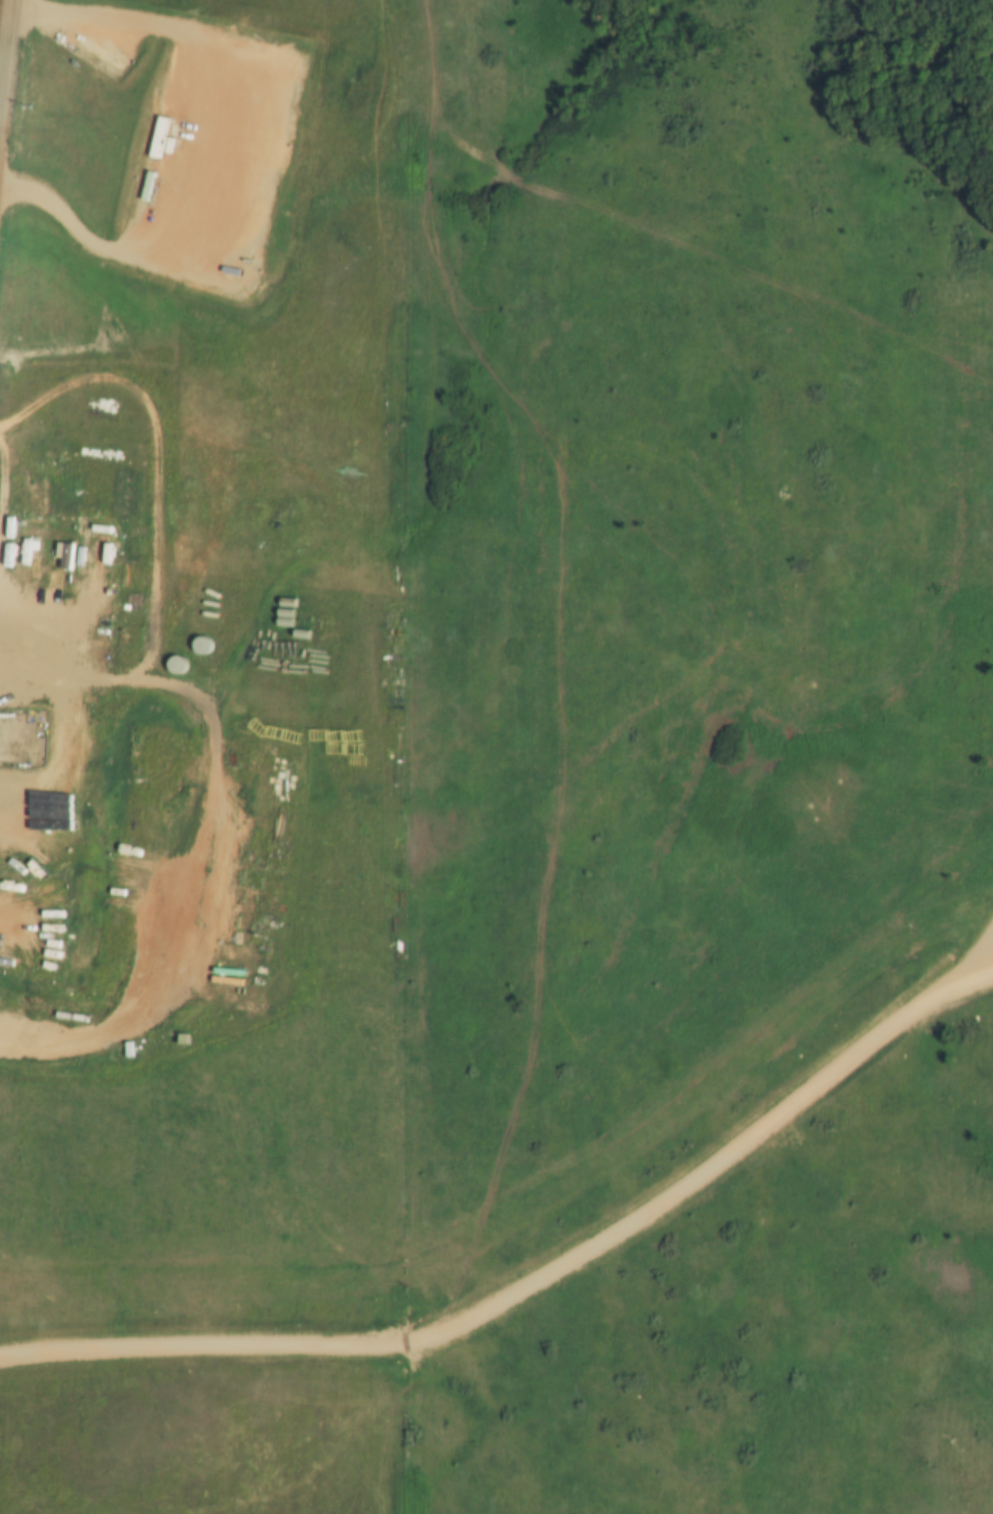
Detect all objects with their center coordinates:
building: (98, 55)
road: (9, 76)
building: (279, 109)
building: (156, 137)
building: (7, 527)
building: (78, 553)
building: (6, 555)
building: (38, 557)
building: (62, 557)
storage tank: (200, 645)
building: (92, 652)
storage tank: (174, 664)
building: (73, 939)
building: (5, 960)
road: (976, 968)
building: (35, 969)
road: (532, 1274)

